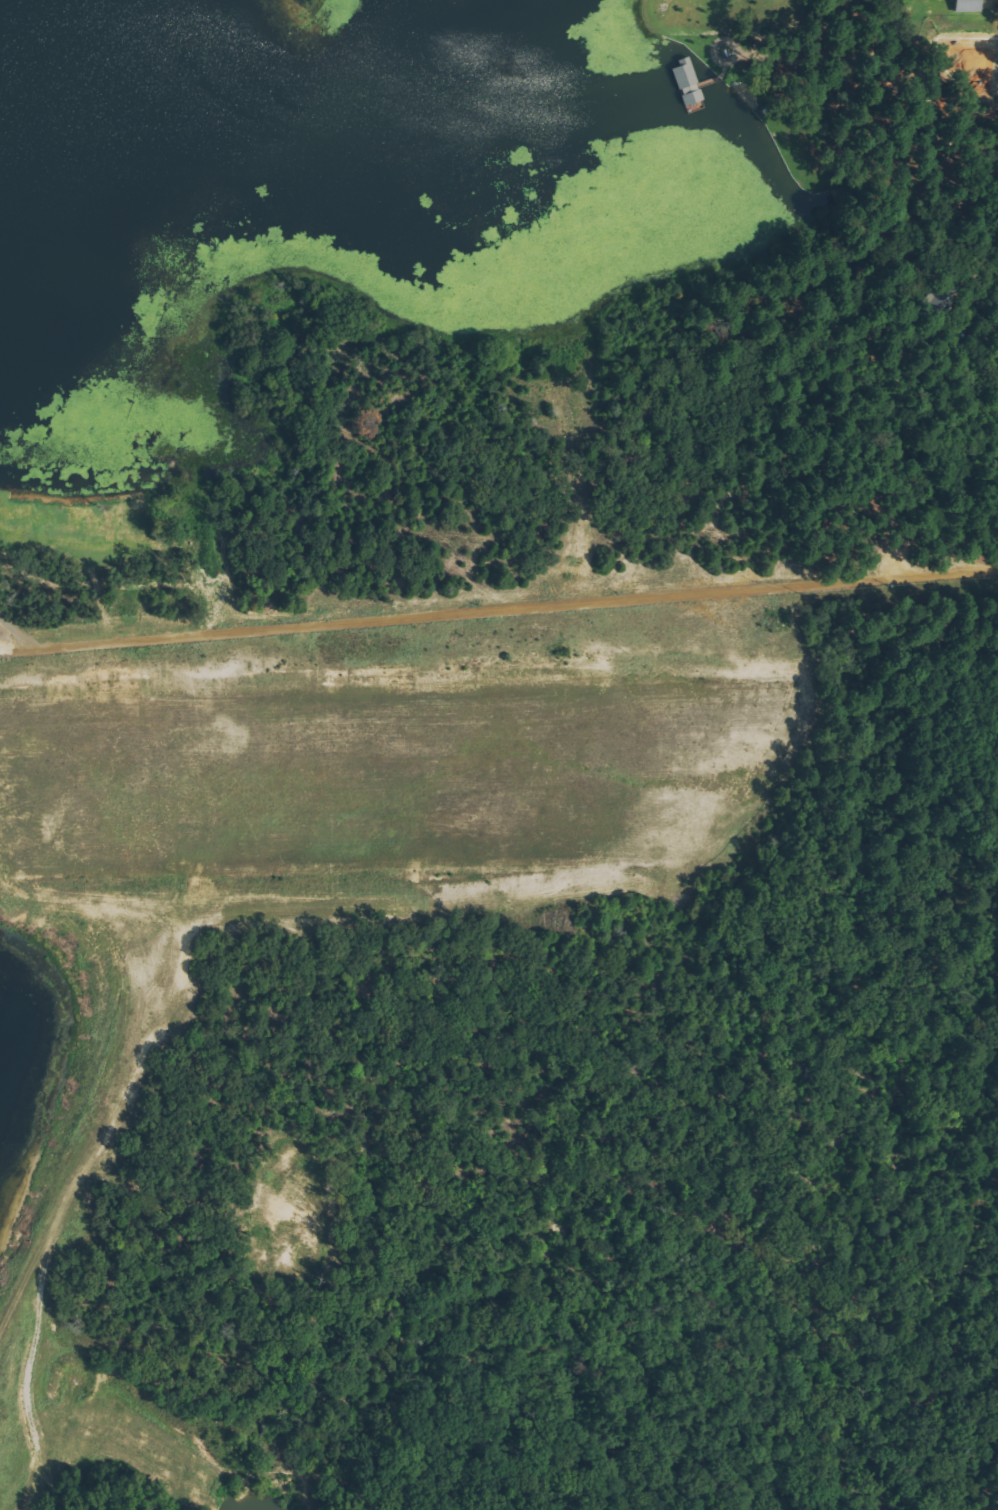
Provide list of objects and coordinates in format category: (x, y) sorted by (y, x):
building: (963, 6)
road: (908, 578)
dam: (94, 1169)

